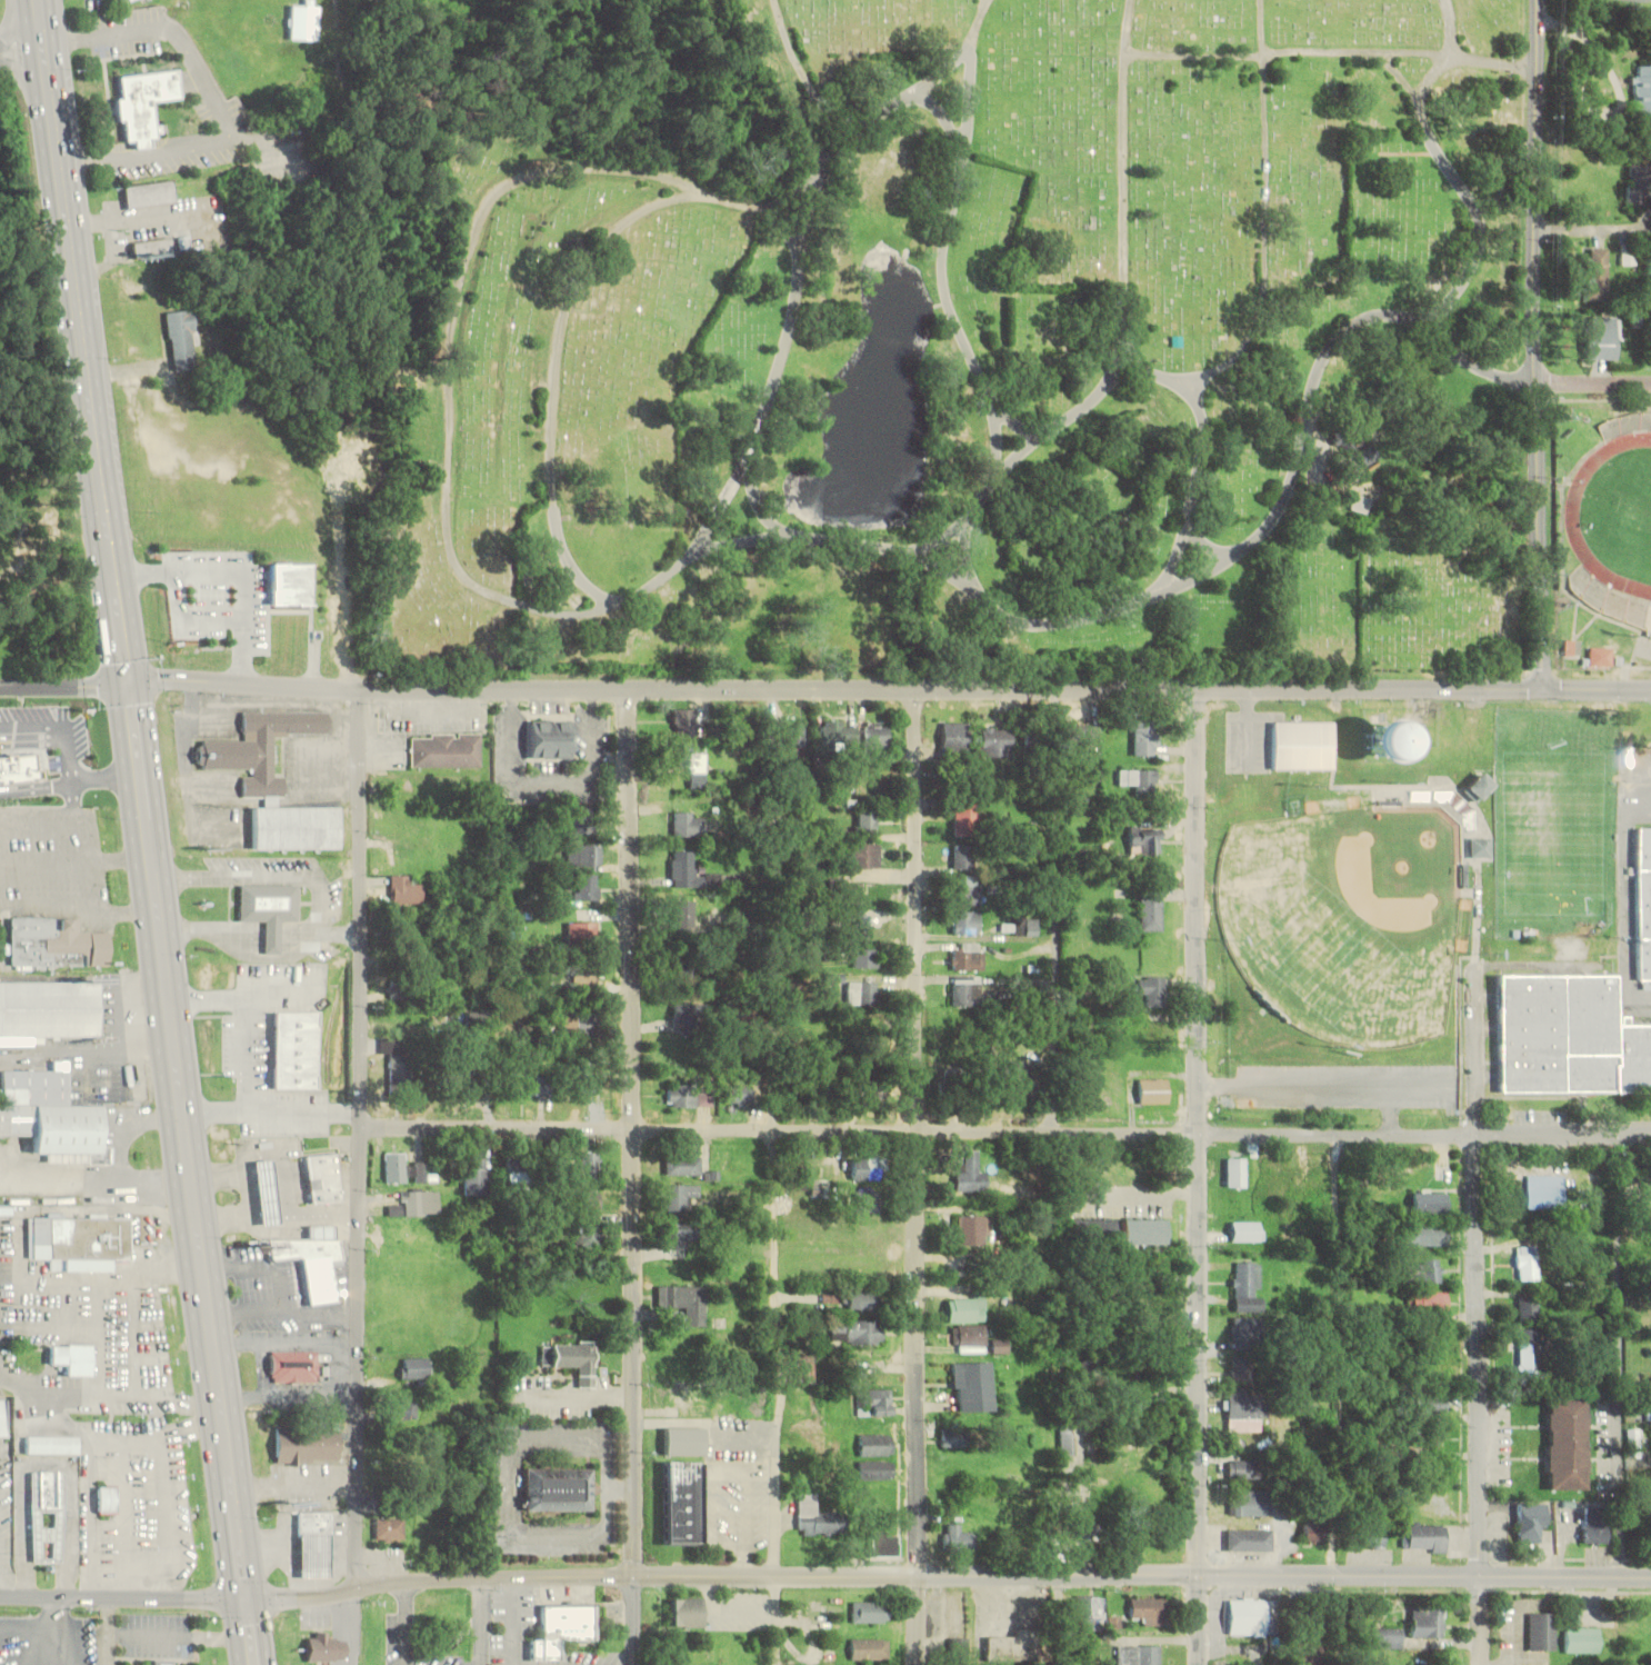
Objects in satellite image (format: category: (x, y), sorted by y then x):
building: (123, 0)
road: (987, 1)
road: (20, 32)
road: (1331, 54)
road: (796, 64)
road: (1400, 76)
building: (318, 78)
building: (1641, 90)
building: (146, 100)
road: (902, 100)
road: (945, 124)
road: (1448, 167)
building: (1638, 186)
building: (152, 191)
road: (781, 202)
road: (1267, 220)
road: (950, 227)
road: (807, 229)
building: (156, 245)
building: (1599, 275)
road: (1125, 289)
building: (183, 335)
building: (1602, 337)
road: (1539, 345)
park: (972, 352)
road: (556, 371)
road: (1595, 386)
road: (1202, 392)
road: (1017, 426)
road: (997, 449)
road: (1025, 450)
building: (1369, 453)
building: (1362, 504)
road: (761, 510)
park: (1632, 517)
park: (1609, 530)
road: (1210, 548)
road: (1178, 561)
road: (234, 572)
road: (464, 579)
building: (293, 582)
road: (1177, 588)
parking lot: (221, 594)
road: (192, 614)
building: (1600, 656)
traffic signals: (130, 679)
road: (64, 682)
road: (890, 685)
building: (686, 721)
road: (1248, 729)
building: (840, 734)
building: (1082, 735)
building: (874, 737)
water tower: (1385, 737)
building: (797, 738)
building: (954, 738)
building: (552, 739)
building: (1033, 739)
building: (1145, 739)
building: (1383, 739)
building: (997, 741)
parking lot: (1250, 741)
building: (263, 745)
building: (1303, 745)
building: (448, 750)
building: (693, 762)
building: (19, 765)
road: (1641, 779)
building: (1147, 784)
building: (1481, 786)
building: (967, 817)
building: (865, 820)
building: (587, 822)
building: (689, 824)
park: (1560, 824)
building: (298, 825)
road: (147, 831)
building: (1144, 840)
building: (1482, 847)
building: (586, 855)
building: (867, 855)
building: (964, 856)
building: (684, 868)
building: (587, 886)
building: (969, 889)
building: (409, 891)
building: (848, 894)
building: (1643, 899)
building: (270, 906)
road: (1058, 908)
building: (1151, 910)
building: (683, 917)
building: (967, 923)
building: (860, 925)
building: (1024, 927)
building: (583, 933)
park: (1338, 937)
building: (412, 941)
building: (56, 943)
building: (969, 956)
building: (864, 957)
building: (684, 965)
building: (587, 976)
building: (401, 987)
building: (1151, 990)
building: (861, 991)
building: (967, 991)
building: (50, 1006)
building: (686, 1015)
building: (478, 1020)
building: (577, 1030)
building: (1565, 1031)
building: (300, 1047)
building: (400, 1071)
building: (1021, 1077)
building: (588, 1081)
building: (474, 1083)
building: (38, 1084)
building: (524, 1086)
building: (1152, 1090)
building: (798, 1094)
building: (867, 1094)
building: (740, 1095)
building: (689, 1096)
building: (60, 1128)
road: (1005, 1133)
road: (359, 1136)
building: (589, 1165)
building: (683, 1165)
building: (864, 1167)
building: (403, 1168)
building: (516, 1170)
building: (1235, 1172)
building: (476, 1173)
building: (1445, 1173)
building: (970, 1174)
road: (637, 1175)
road: (915, 1175)
road: (1198, 1175)
building: (328, 1176)
building: (269, 1190)
building: (1544, 1190)
building: (124, 1195)
building: (679, 1195)
building: (588, 1198)
building: (863, 1202)
building: (417, 1203)
building: (1429, 1203)
building: (324, 1229)
building: (972, 1229)
building: (1091, 1229)
building: (1247, 1230)
building: (586, 1232)
building: (1141, 1232)
building: (1427, 1235)
building: (679, 1236)
building: (80, 1239)
building: (316, 1262)
building: (1527, 1264)
building: (1153, 1268)
building: (1424, 1270)
building: (1247, 1287)
building: (868, 1299)
building: (684, 1303)
building: (1429, 1303)
building: (964, 1309)
road: (1478, 1309)
building: (1529, 1309)
building: (857, 1332)
building: (1245, 1332)
building: (970, 1334)
building: (1529, 1350)
building: (76, 1356)
road: (1625, 1357)
building: (577, 1359)
building: (296, 1363)
building: (1242, 1369)
building: (804, 1373)
building: (974, 1386)
road: (776, 1397)
building: (684, 1399)
road: (1335, 1399)
building: (875, 1402)
building: (1244, 1405)
building: (1427, 1405)
building: (406, 1409)
building: (3, 1415)
building: (954, 1437)
building: (308, 1440)
building: (684, 1440)
building: (1065, 1440)
building: (53, 1442)
building: (1567, 1442)
building: (1634, 1442)
building: (877, 1444)
building: (1247, 1469)
building: (874, 1470)
building: (49, 1486)
building: (558, 1488)
building: (110, 1496)
building: (682, 1503)
building: (1251, 1503)
building: (60, 1516)
building: (816, 1517)
building: (317, 1519)
building: (1530, 1522)
building: (1593, 1526)
building: (390, 1528)
building: (1313, 1532)
building: (1084, 1536)
building: (1373, 1537)
building: (1425, 1537)
building: (954, 1538)
building: (1249, 1539)
building: (882, 1546)
building: (317, 1553)
road: (1143, 1576)
road: (318, 1592)
traffic signals: (247, 1595)
building: (1148, 1611)
building: (686, 1612)
building: (867, 1612)
building: (1085, 1613)
building: (1251, 1617)
building: (1424, 1623)
road: (44, 1625)
road: (1, 1627)
building: (564, 1629)
building: (1540, 1631)
building: (1385, 1637)
building: (1581, 1639)
parking lot: (33, 1643)
building: (960, 1643)
road: (34, 1645)
road: (61, 1645)
building: (326, 1645)
building: (1014, 1646)
building: (867, 1649)
building: (1137, 1655)
building: (162, 1662)

